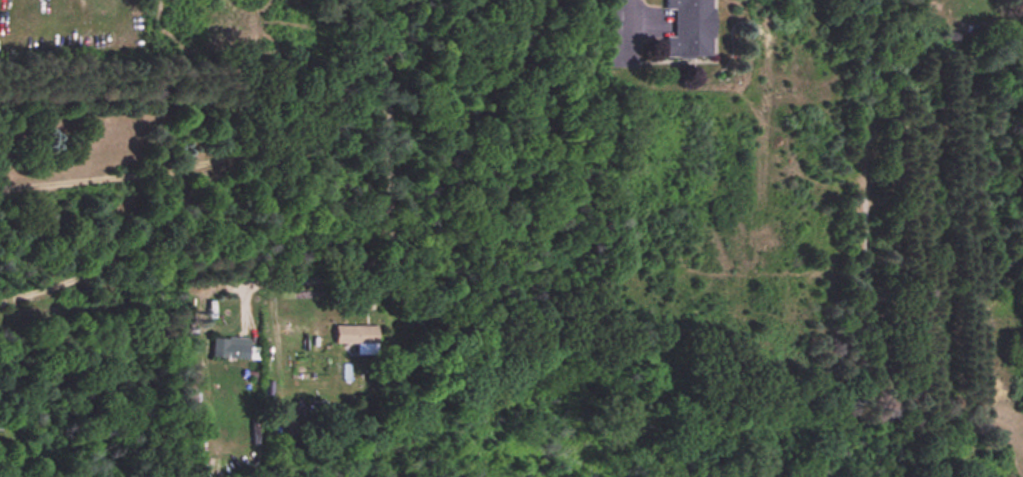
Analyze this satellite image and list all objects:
road: (632, 20)
building: (693, 29)
road: (376, 88)
road: (240, 155)
road: (128, 247)
building: (359, 338)
road: (866, 338)
building: (235, 350)

